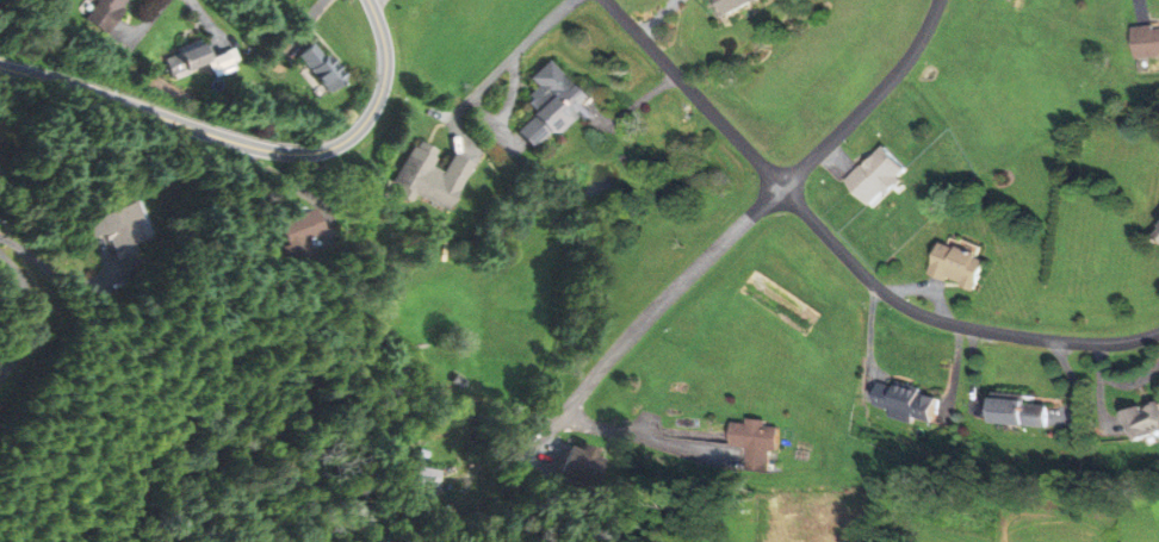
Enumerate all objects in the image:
building: (738, 5)
building: (110, 13)
building: (1146, 42)
road: (512, 60)
building: (202, 62)
building: (326, 69)
road: (694, 94)
building: (553, 105)
road: (248, 144)
building: (876, 176)
building: (436, 177)
road: (746, 222)
building: (129, 228)
building: (314, 228)
building: (959, 267)
road: (29, 314)
road: (946, 323)
building: (904, 403)
building: (1021, 413)
building: (1143, 424)
building: (761, 444)
building: (581, 462)
building: (430, 478)

